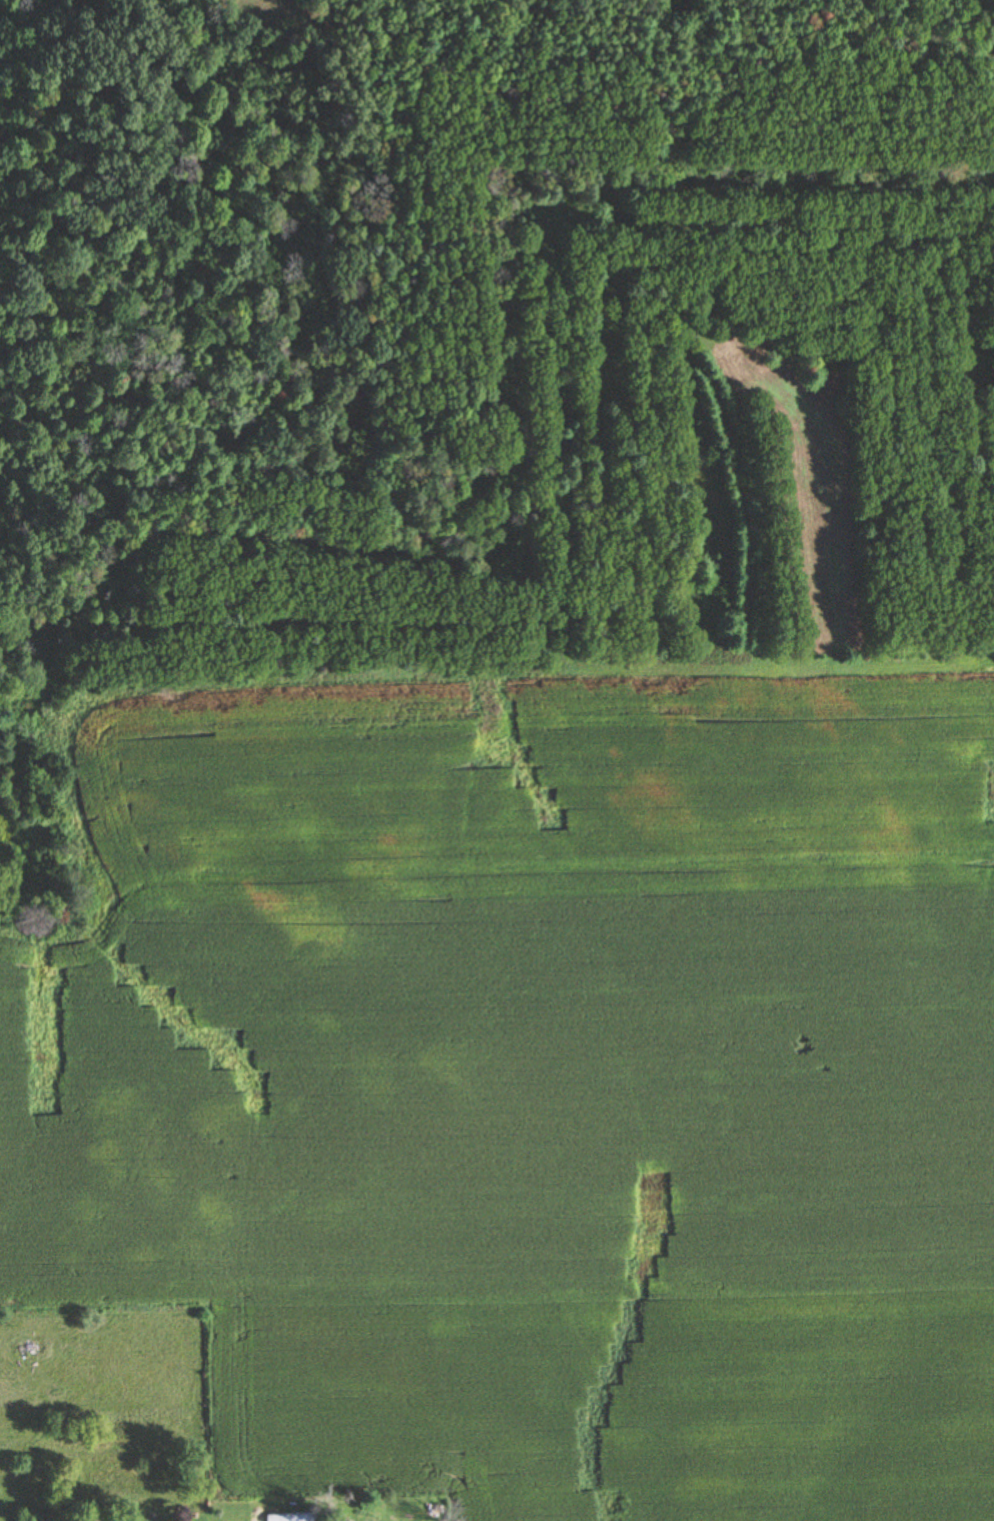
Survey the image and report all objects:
building: (278, 1517)

